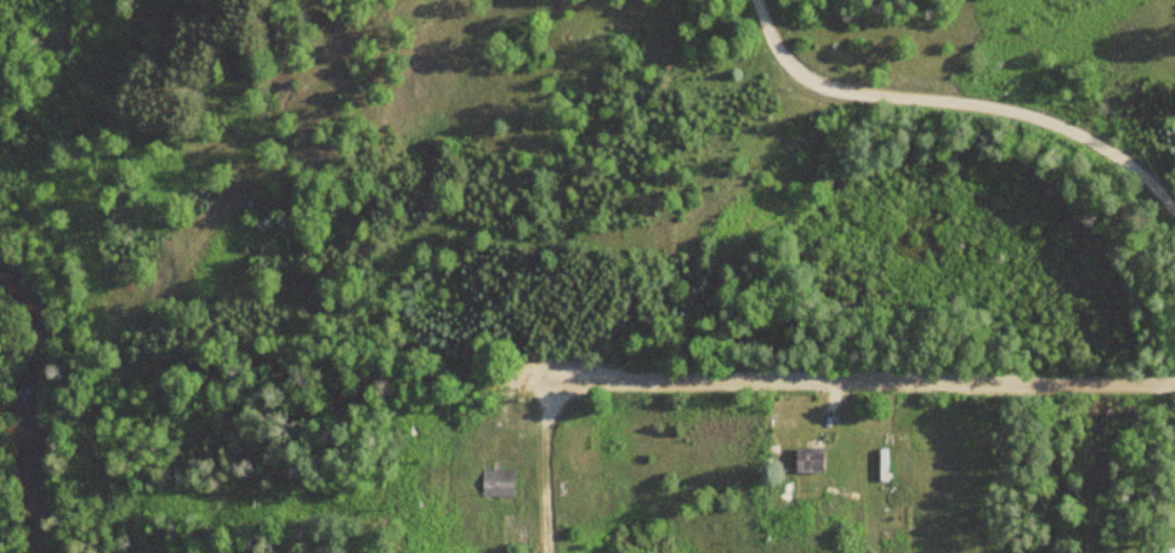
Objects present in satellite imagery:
road: (957, 104)
road: (852, 382)
river: (27, 407)
building: (806, 460)
building: (881, 464)
road: (544, 466)
building: (498, 481)

